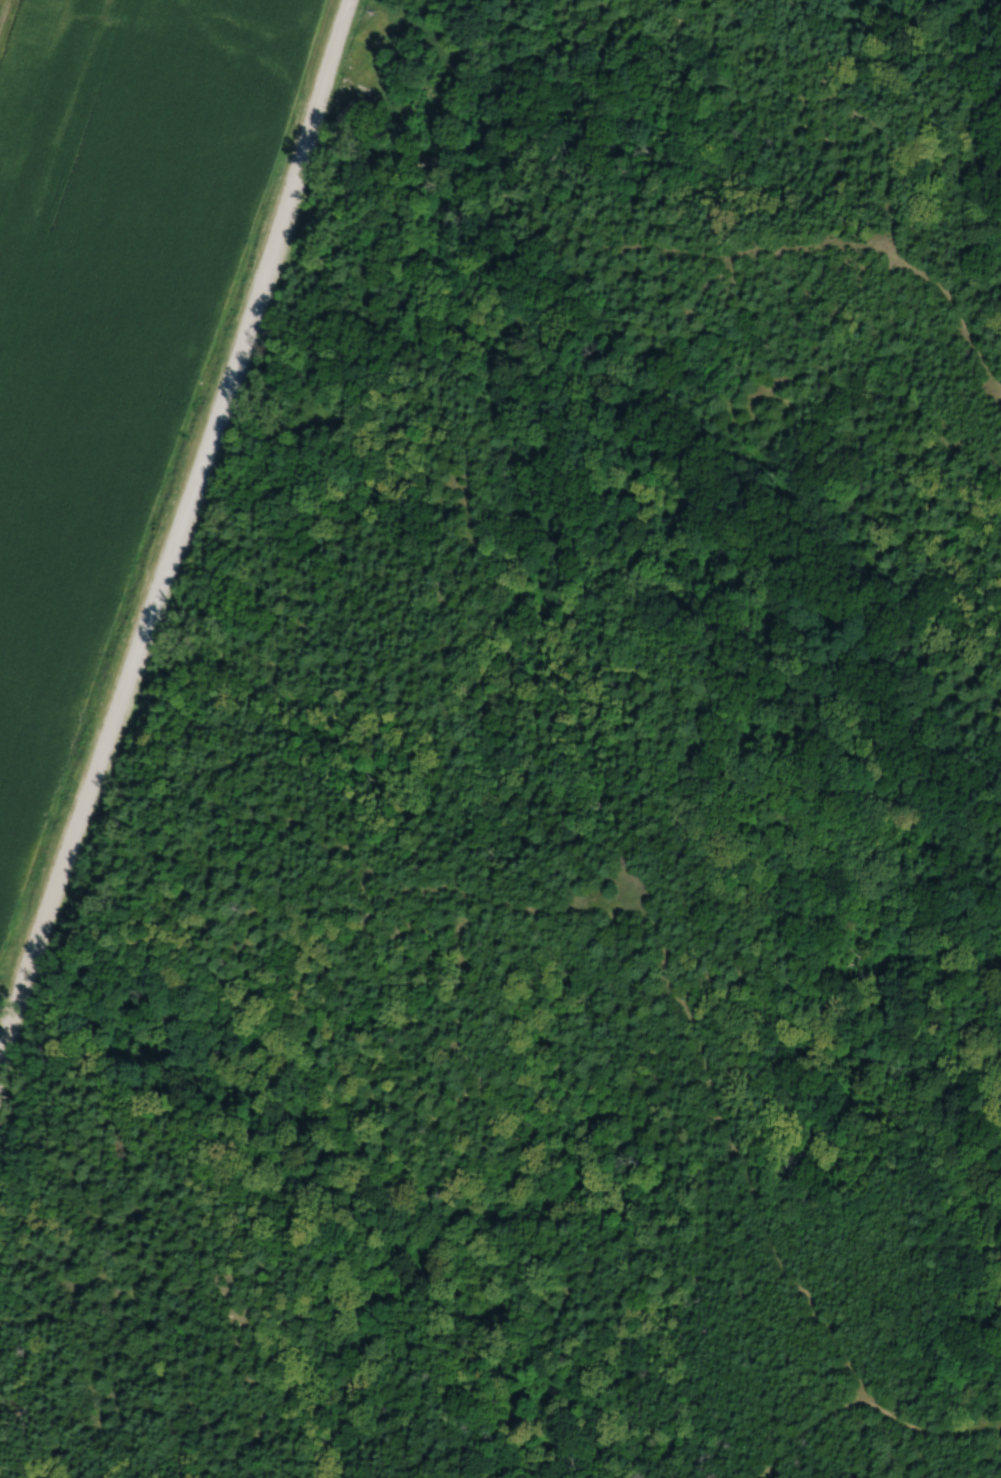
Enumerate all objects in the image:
road: (181, 528)

